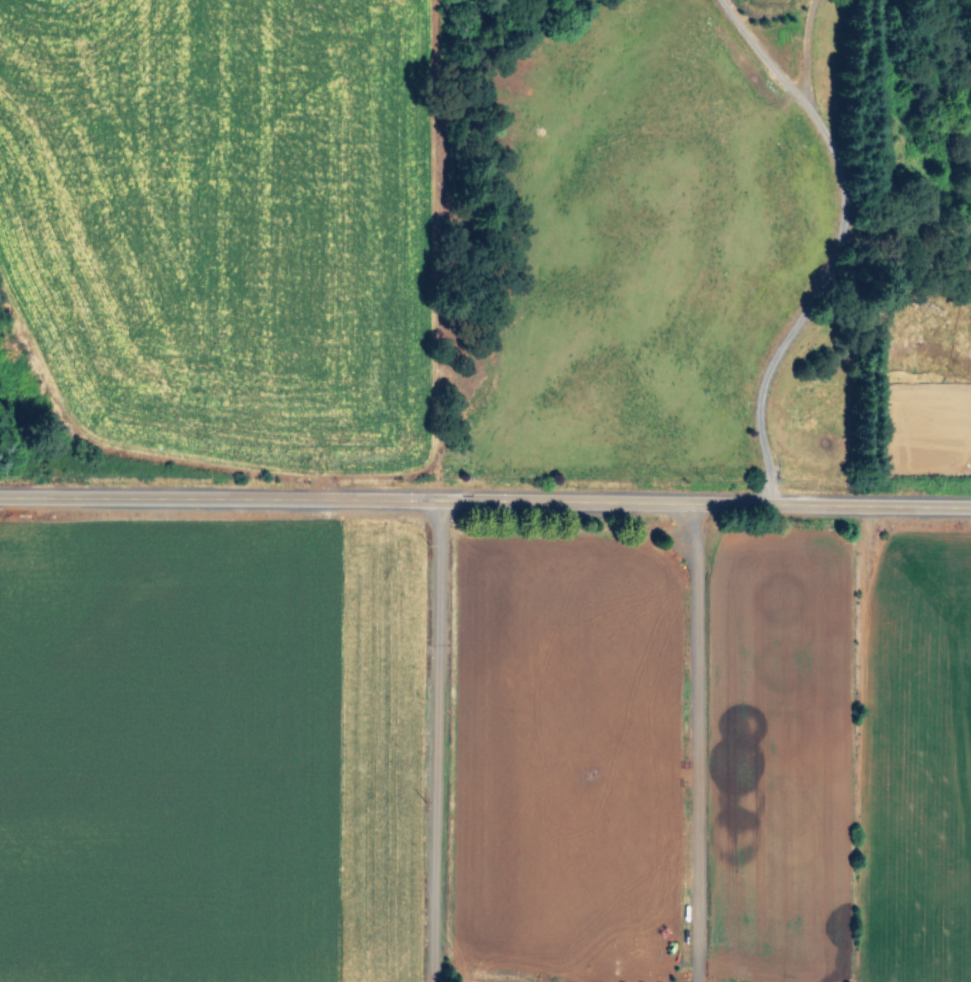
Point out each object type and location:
road: (834, 243)
road: (485, 503)
crop: (391, 576)
road: (431, 742)
road: (691, 744)

